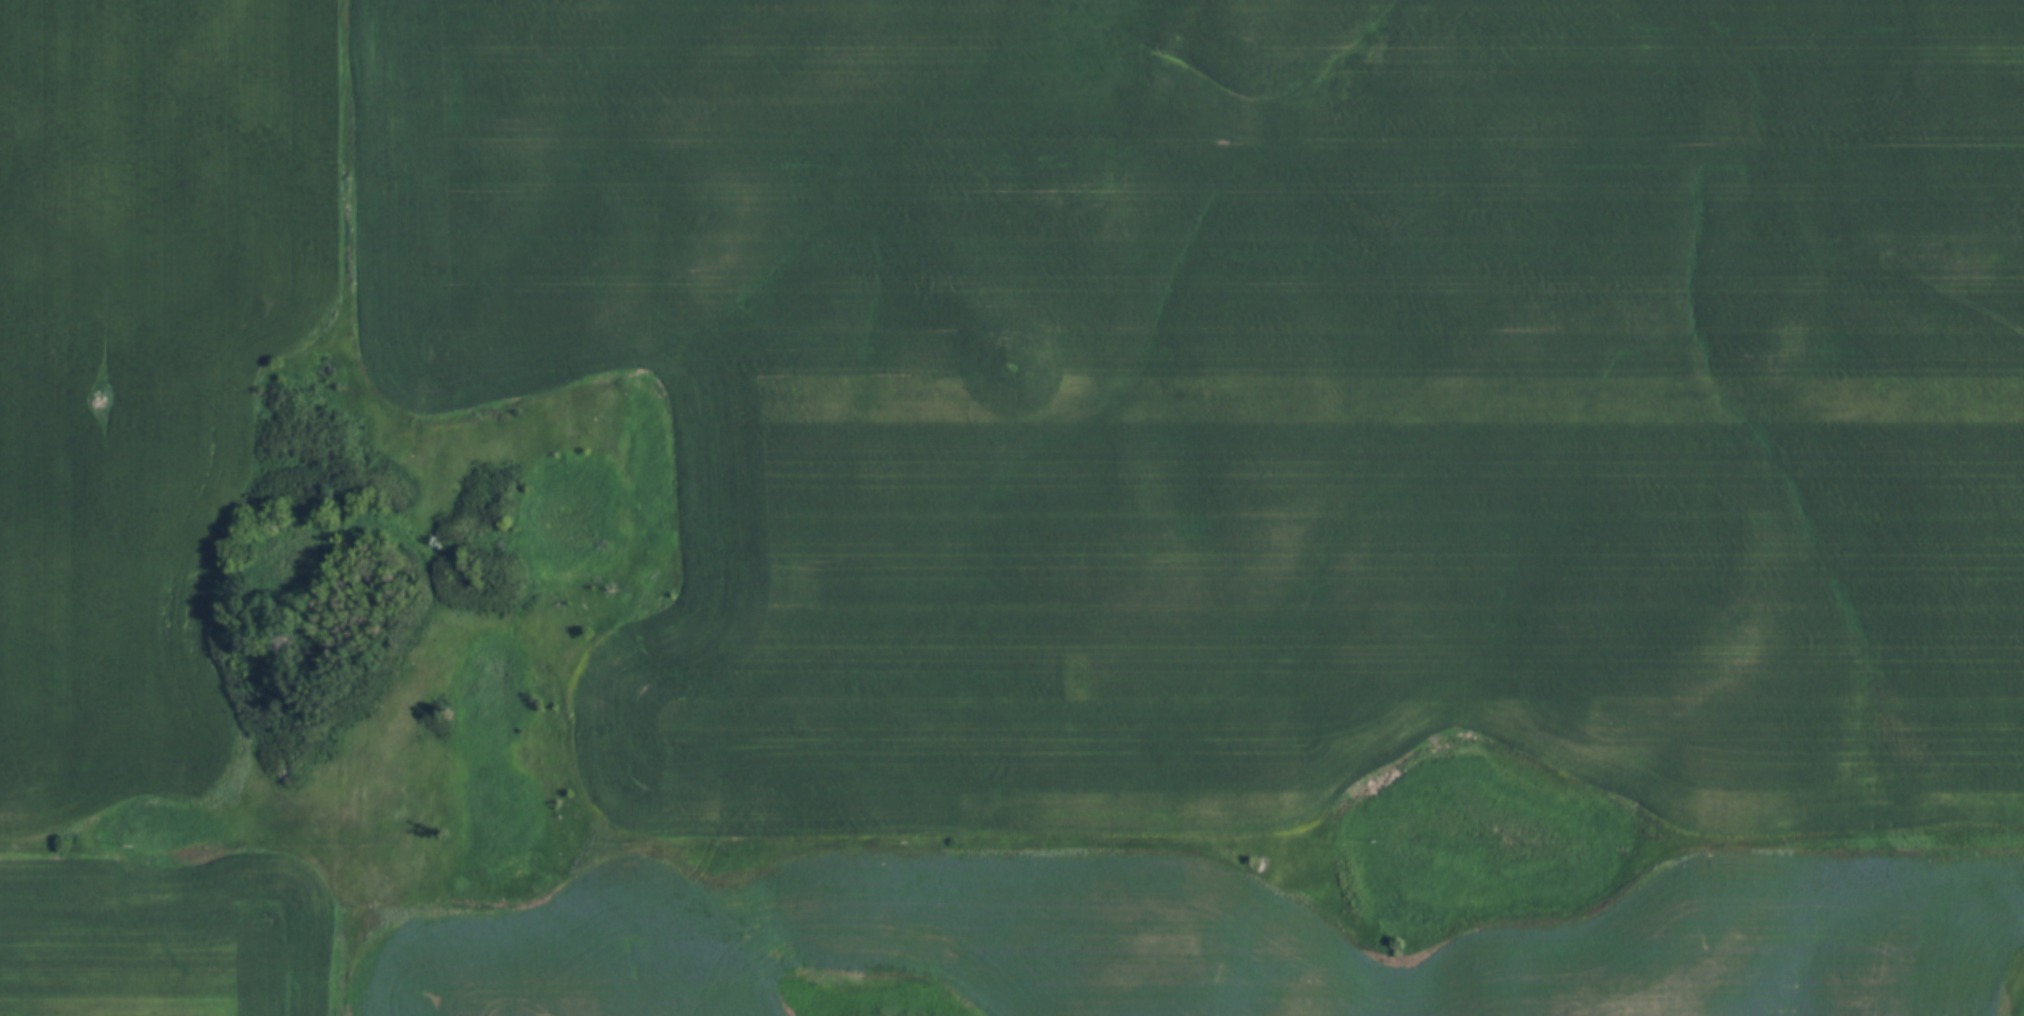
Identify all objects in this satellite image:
wind turbine: (1885, 254)

